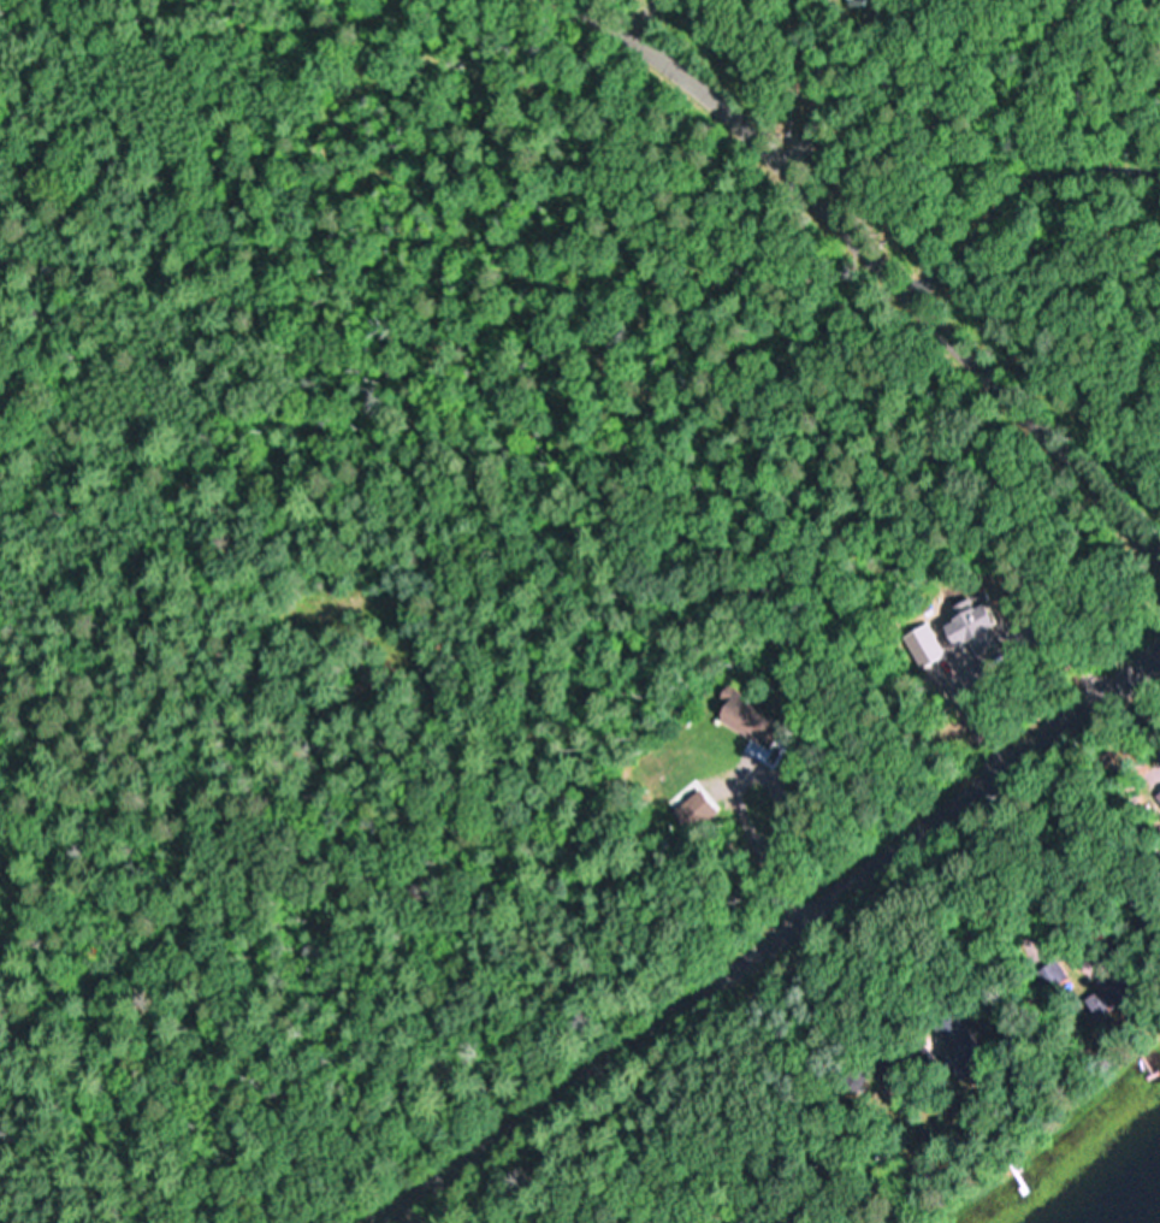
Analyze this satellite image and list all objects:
road: (1016, 191)
road: (888, 271)
building: (767, 714)
road: (759, 934)
building: (1050, 973)
building: (1103, 1000)
building: (958, 1048)

